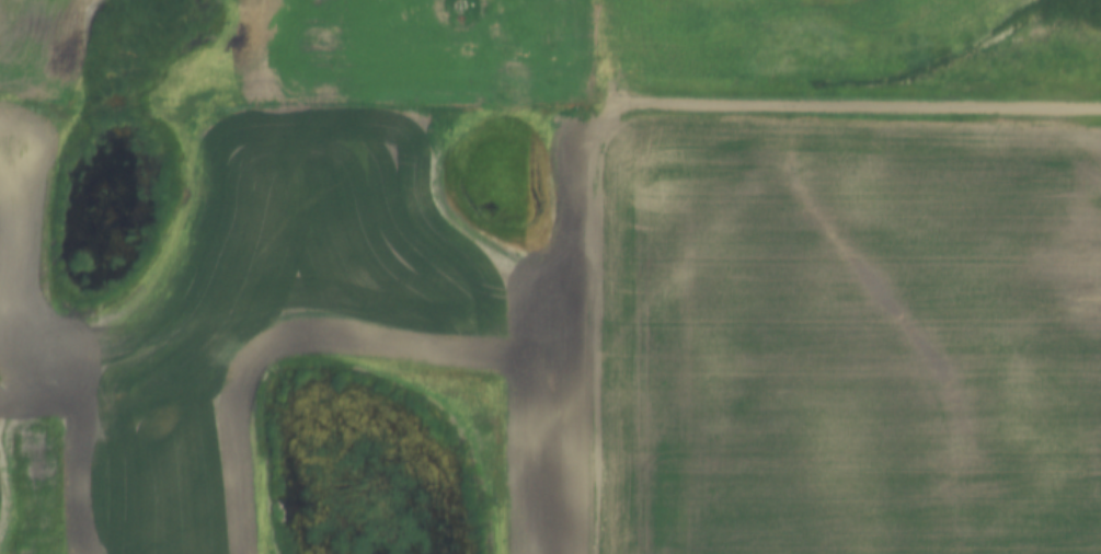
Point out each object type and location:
road: (635, 106)

